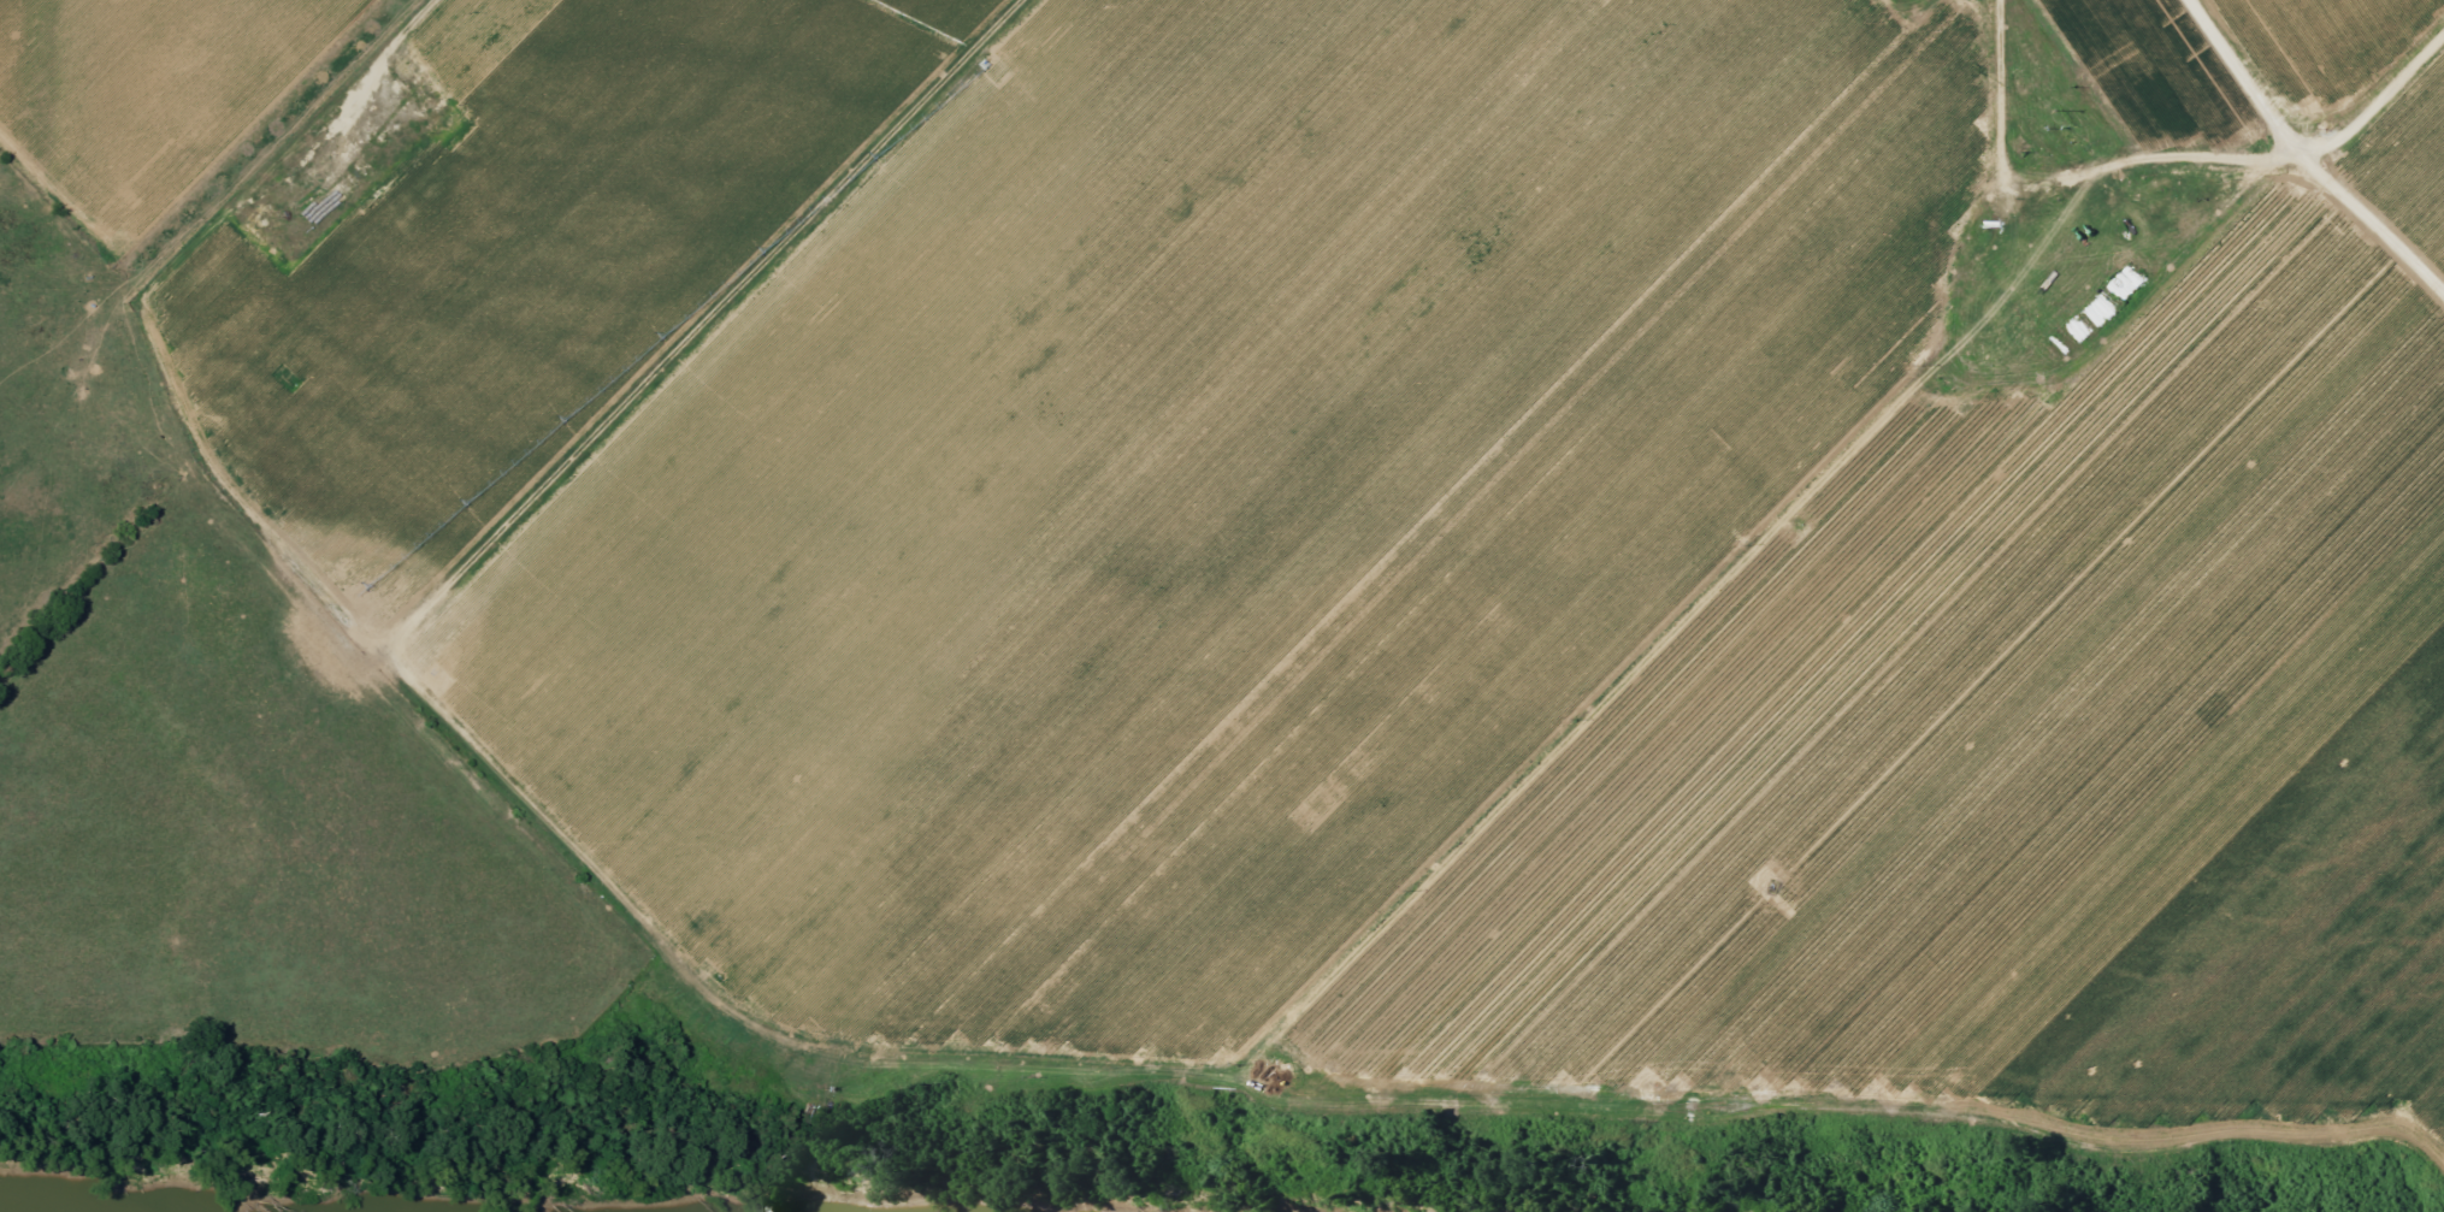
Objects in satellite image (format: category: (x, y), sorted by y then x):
building: (413, 73)
silo: (413, 73)
road: (2243, 73)
building: (420, 81)
silo: (420, 81)
building: (429, 88)
silo: (429, 88)
petroleum well: (361, 176)
chimney: (261, 220)
road: (2369, 225)
chimney: (272, 231)

